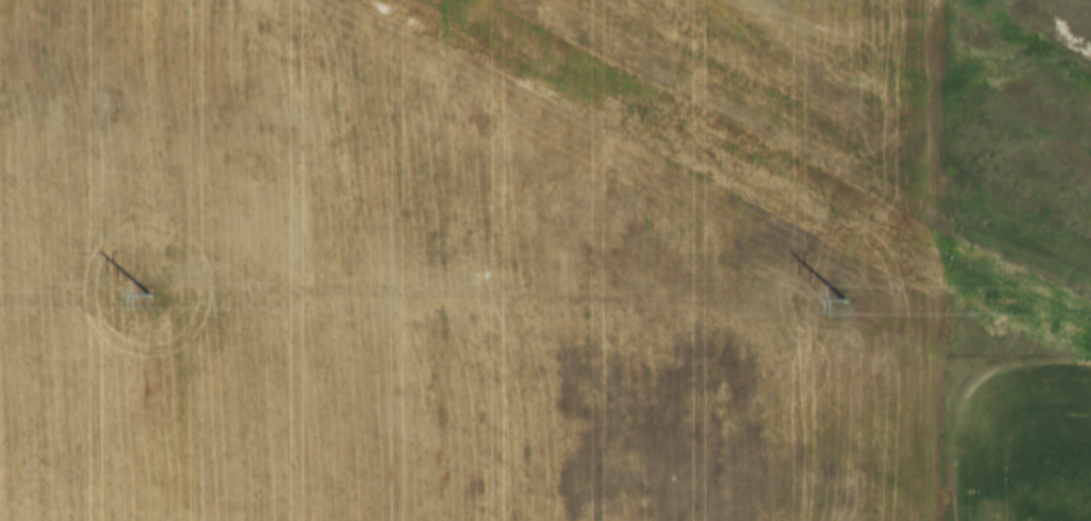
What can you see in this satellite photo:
power tower: (152, 293)
power tower: (845, 304)

